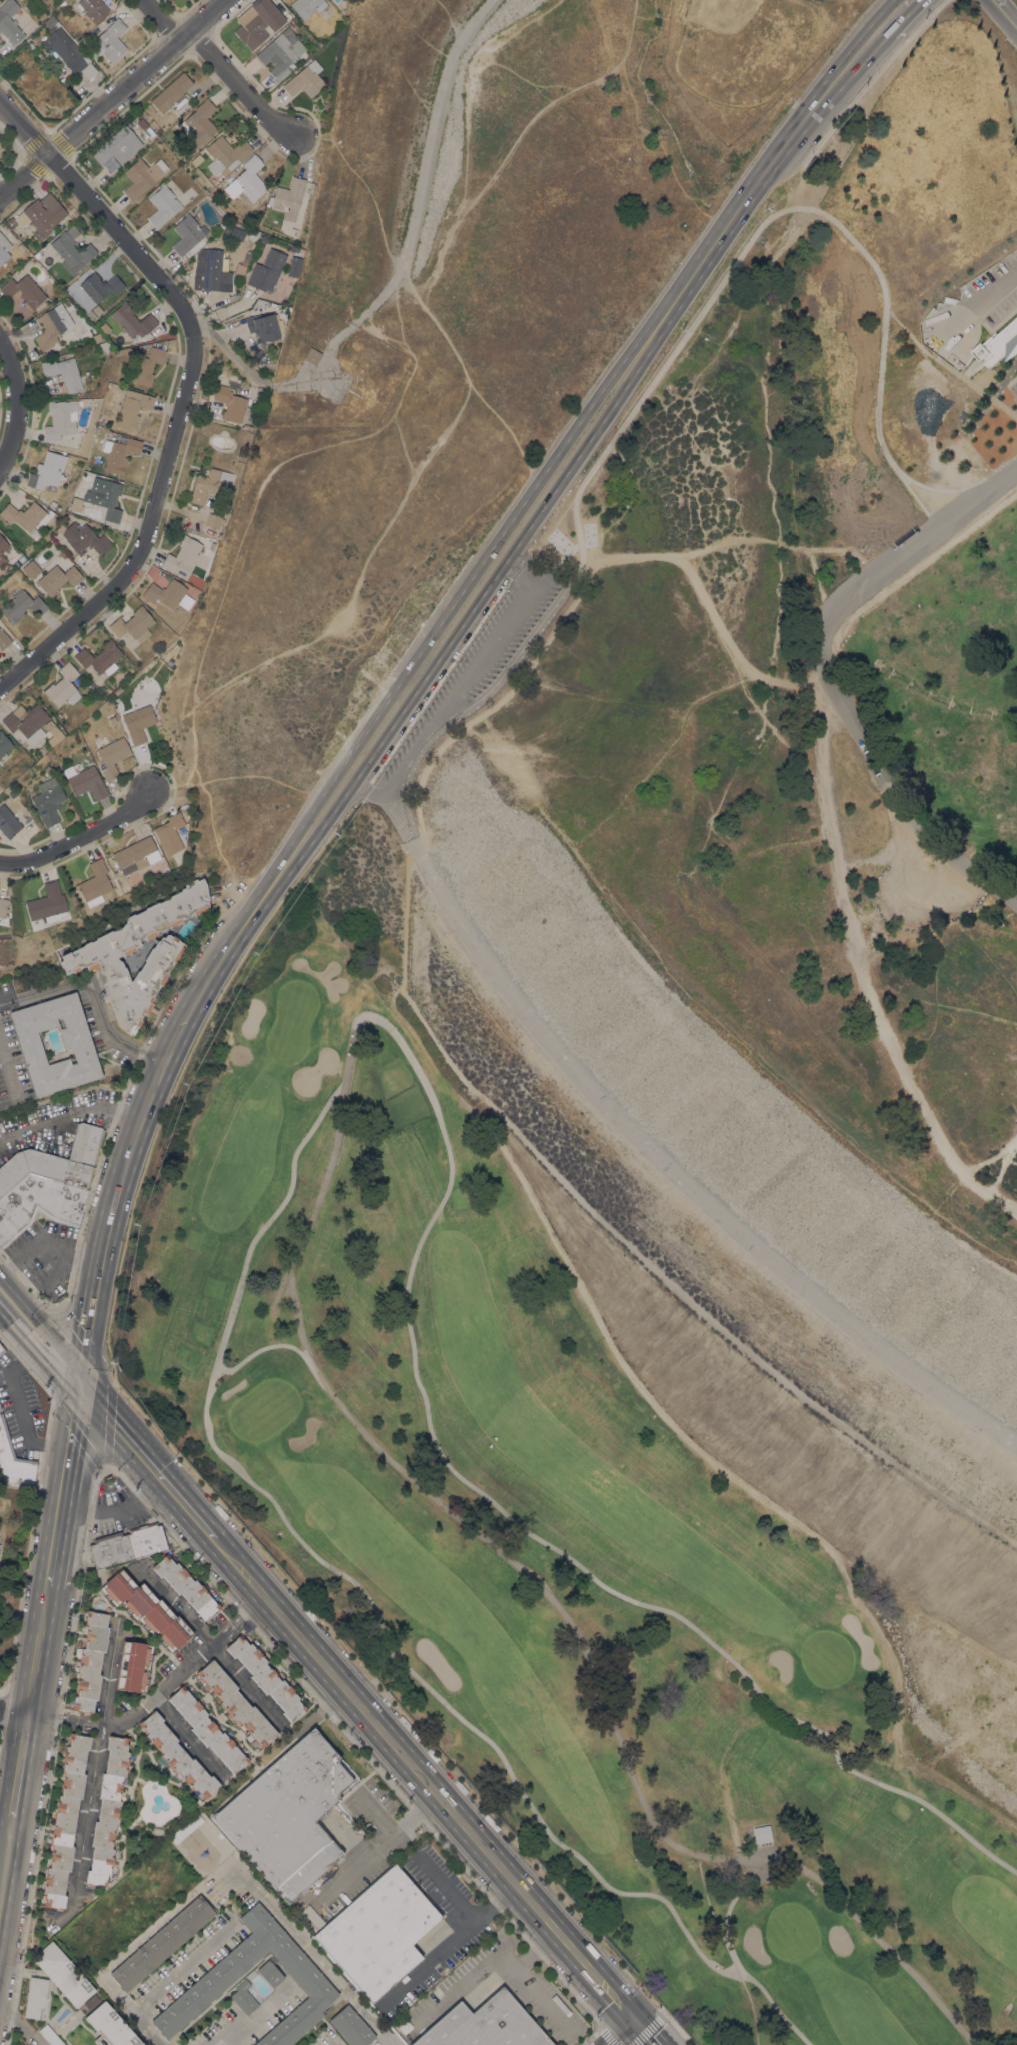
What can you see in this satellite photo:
park: (1015, 1)
building: (307, 7)
building: (92, 9)
road: (1004, 14)
road: (891, 15)
road: (159, 20)
building: (51, 21)
building: (9, 22)
building: (257, 22)
building: (44, 35)
building: (110, 40)
building: (29, 42)
park: (745, 48)
building: (69, 52)
building: (281, 52)
building: (37, 53)
road: (836, 77)
road: (871, 79)
building: (305, 80)
road: (238, 84)
building: (172, 94)
road: (112, 96)
building: (152, 123)
building: (199, 123)
building: (145, 128)
building: (116, 149)
building: (225, 155)
building: (197, 159)
building: (142, 176)
building: (247, 180)
road: (795, 186)
building: (289, 194)
building: (163, 205)
road: (100, 213)
building: (42, 215)
road: (413, 217)
building: (10, 222)
building: (233, 232)
road: (699, 232)
building: (187, 234)
building: (252, 235)
building: (21, 247)
building: (292, 249)
building: (72, 250)
building: (4, 252)
building: (245, 258)
building: (294, 266)
building: (209, 270)
building: (266, 271)
parking lot: (989, 273)
building: (101, 286)
building: (24, 290)
parking lot: (1000, 308)
building: (96, 311)
road: (971, 311)
building: (132, 320)
building: (52, 326)
building: (265, 326)
building: (104, 328)
road: (907, 335)
building: (97, 337)
building: (999, 345)
building: (104, 346)
road: (231, 353)
building: (312, 355)
building: (146, 366)
building: (63, 372)
parking lot: (1014, 387)
road: (648, 388)
road: (976, 389)
building: (230, 403)
road: (17, 406)
building: (132, 407)
building: (61, 419)
building: (120, 454)
building: (50, 472)
building: (84, 481)
building: (209, 484)
road: (942, 489)
road: (914, 497)
building: (107, 499)
building: (76, 504)
building: (89, 510)
road: (516, 511)
building: (26, 515)
building: (213, 520)
road: (531, 521)
road: (145, 535)
building: (85, 539)
building: (2, 543)
building: (63, 555)
building: (182, 557)
building: (2, 558)
building: (21, 559)
building: (31, 568)
building: (57, 579)
building: (81, 585)
building: (165, 593)
building: (21, 605)
road: (707, 606)
building: (134, 624)
building: (4, 640)
building: (99, 656)
parking lot: (480, 657)
road: (826, 674)
building: (63, 686)
road: (456, 687)
building: (112, 719)
building: (27, 721)
building: (138, 722)
building: (53, 733)
building: (4, 744)
building: (42, 749)
building: (112, 756)
building: (48, 767)
building: (86, 781)
building: (12, 793)
building: (48, 801)
road: (398, 821)
building: (8, 822)
building: (169, 833)
road: (80, 838)
building: (135, 855)
building: (163, 869)
dam: (498, 879)
building: (95, 881)
building: (47, 903)
building: (3, 906)
building: (89, 956)
road: (860, 970)
road: (94, 995)
park: (291, 1022)
building: (76, 1039)
road: (174, 1040)
park: (380, 1049)
road: (7, 1072)
park: (399, 1094)
road: (71, 1113)
road: (502, 1119)
park: (359, 1126)
building: (56, 1161)
dam: (920, 1161)
road: (681, 1180)
road: (318, 1195)
building: (38, 1204)
road: (45, 1242)
road: (95, 1282)
park: (212, 1289)
road: (22, 1323)
road: (45, 1324)
park: (198, 1328)
building: (2, 1349)
road: (259, 1349)
park: (186, 1357)
dam: (780, 1360)
road: (61, 1364)
traffic signals: (78, 1382)
road: (17, 1405)
building: (0, 1407)
park: (264, 1409)
road: (145, 1459)
building: (14, 1462)
road: (63, 1483)
road: (116, 1511)
road: (523, 1530)
building: (127, 1545)
park: (887, 1546)
road: (342, 1575)
building: (186, 1586)
road: (548, 1596)
building: (146, 1610)
road: (252, 1610)
park: (635, 1617)
road: (232, 1623)
road: (234, 1626)
road: (227, 1627)
road: (229, 1630)
road: (210, 1643)
road: (39, 1650)
park: (827, 1658)
building: (91, 1661)
building: (134, 1666)
road: (109, 1677)
building: (266, 1677)
road: (167, 1685)
building: (236, 1703)
road: (14, 1711)
road: (46, 1717)
building: (207, 1729)
road: (185, 1735)
building: (177, 1755)
park: (768, 1756)
road: (21, 1765)
road: (426, 1776)
park: (814, 1787)
road: (89, 1797)
building: (108, 1811)
building: (289, 1814)
building: (65, 1820)
building: (762, 1834)
road: (373, 1851)
road: (753, 1865)
road: (7, 1868)
road: (447, 1887)
road: (255, 1889)
park: (659, 1914)
park: (791, 1931)
building: (376, 1933)
road: (449, 1940)
building: (162, 1943)
road: (882, 1946)
road: (182, 1966)
road: (735, 1966)
park: (680, 1970)
building: (63, 1973)
building: (270, 1973)
building: (218, 1977)
road: (523, 1977)
building: (35, 1997)
building: (244, 1997)
road: (130, 2009)
road: (252, 2019)
building: (482, 2025)
building: (110, 2026)
building: (351, 2026)
road: (622, 2030)
road: (651, 2030)
building: (49, 2035)
road: (335, 2044)

